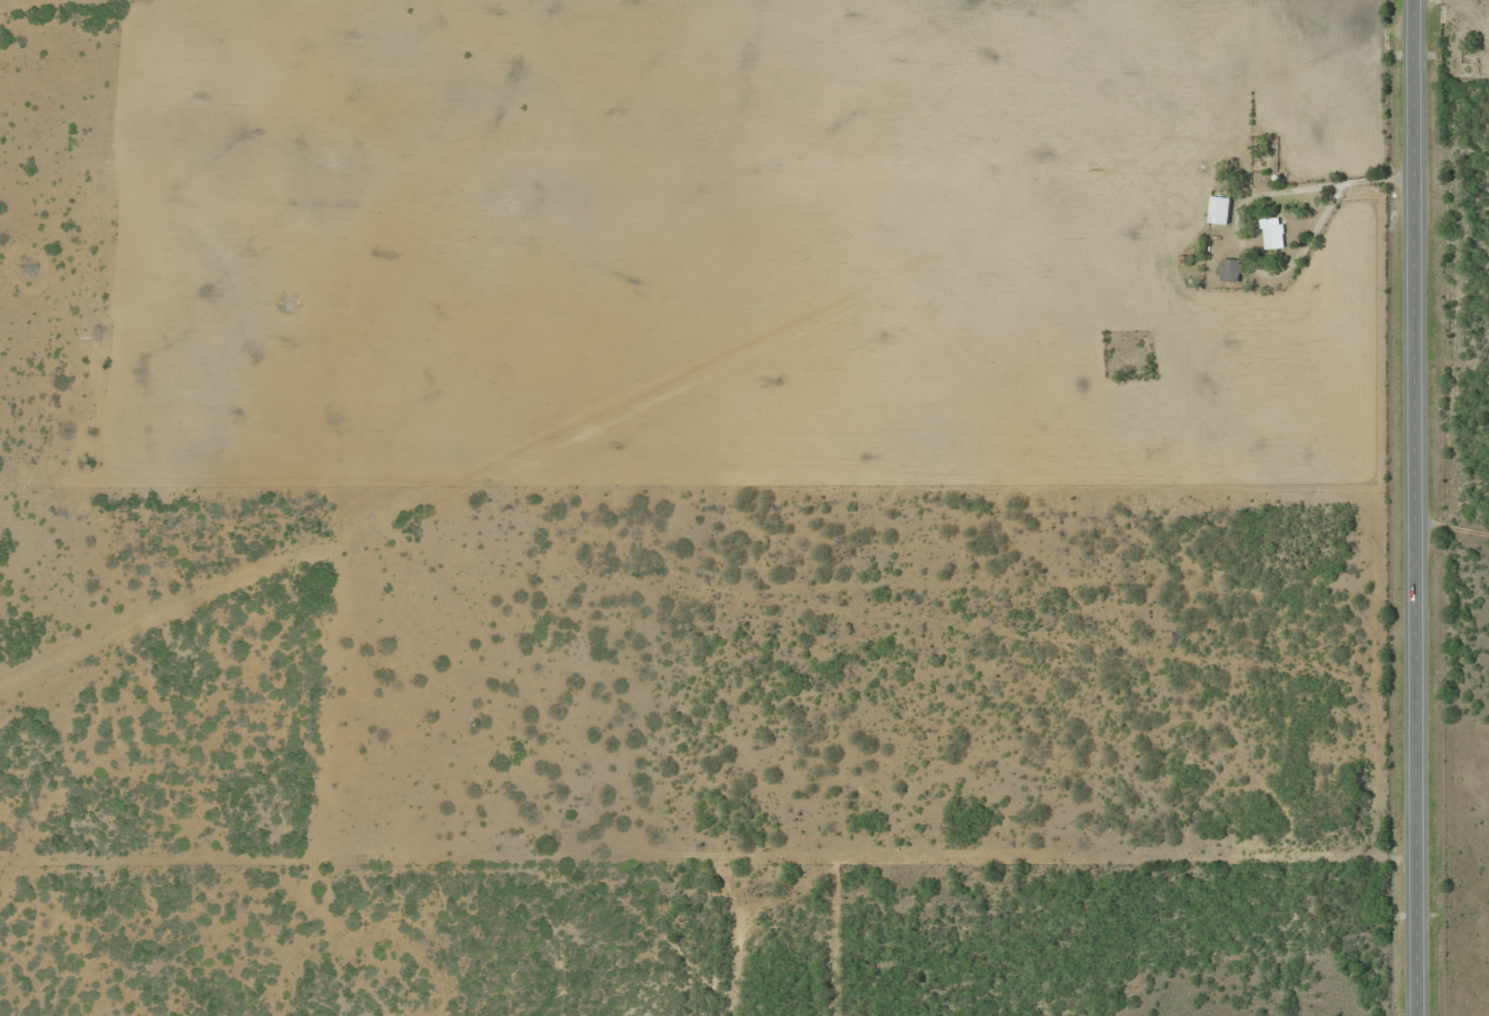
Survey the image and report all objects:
building: (1219, 209)
building: (1272, 232)
building: (1229, 269)
road: (1415, 507)

